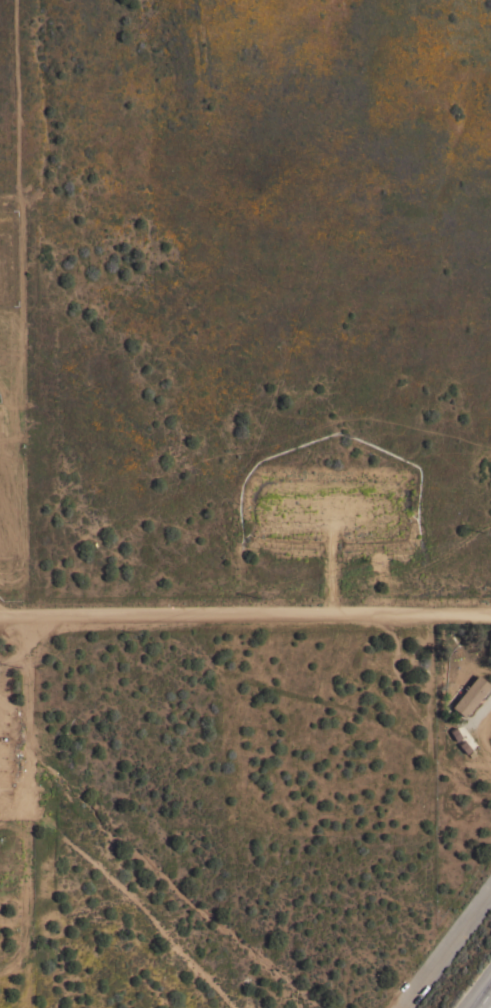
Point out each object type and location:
road: (259, 620)
road: (14, 622)
road: (13, 657)
building: (470, 694)
road: (27, 726)
road: (482, 733)
road: (25, 883)
road: (459, 931)
road: (489, 1006)

